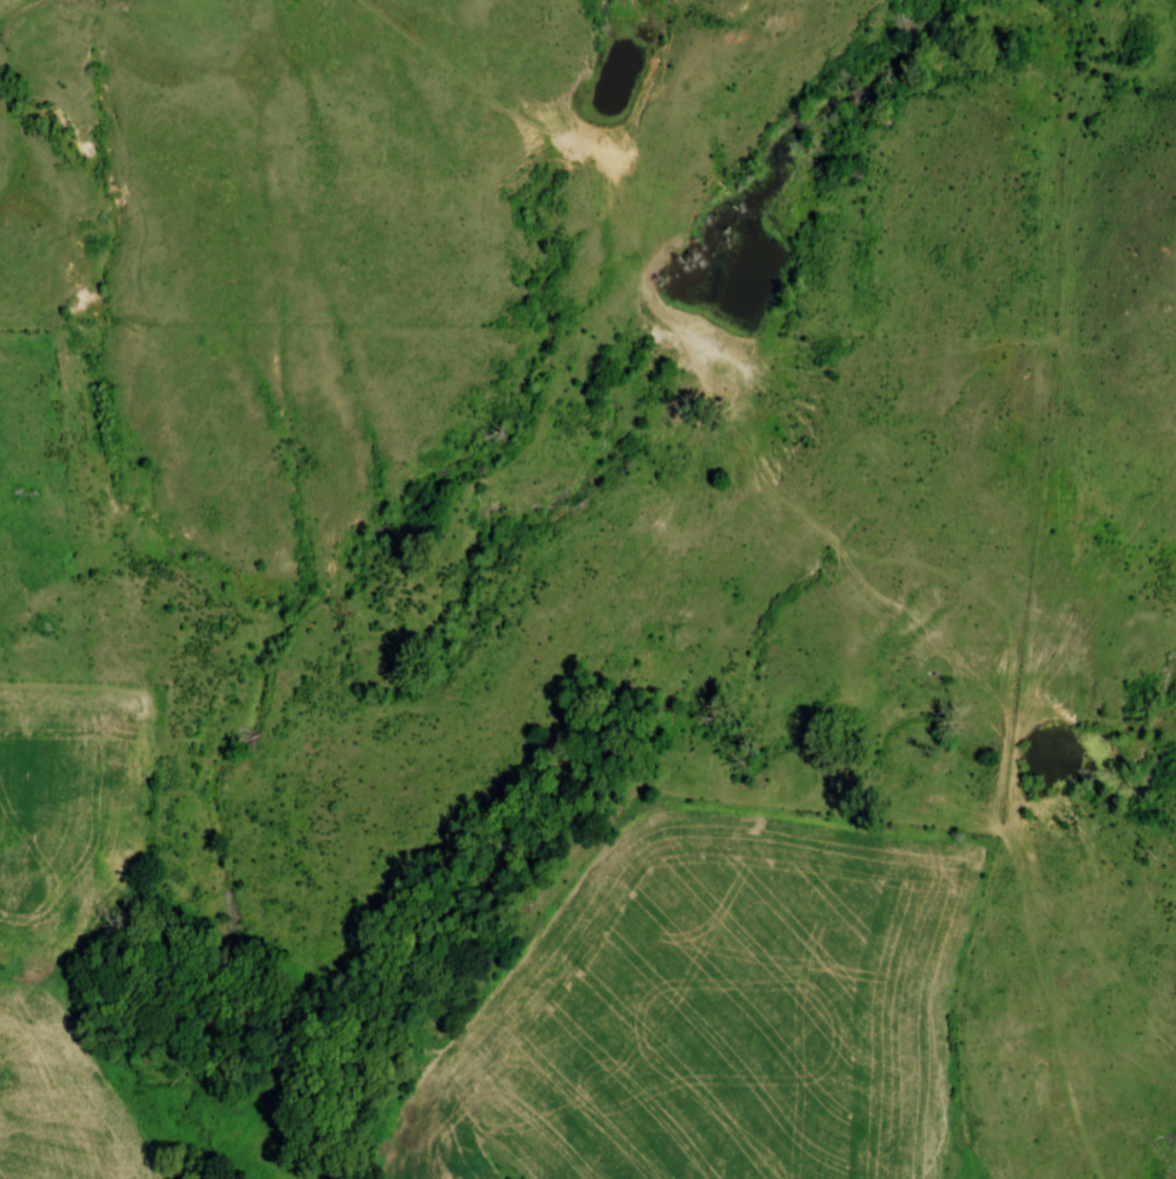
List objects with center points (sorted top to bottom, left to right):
crop: (65, 806)
crop: (52, 1103)

